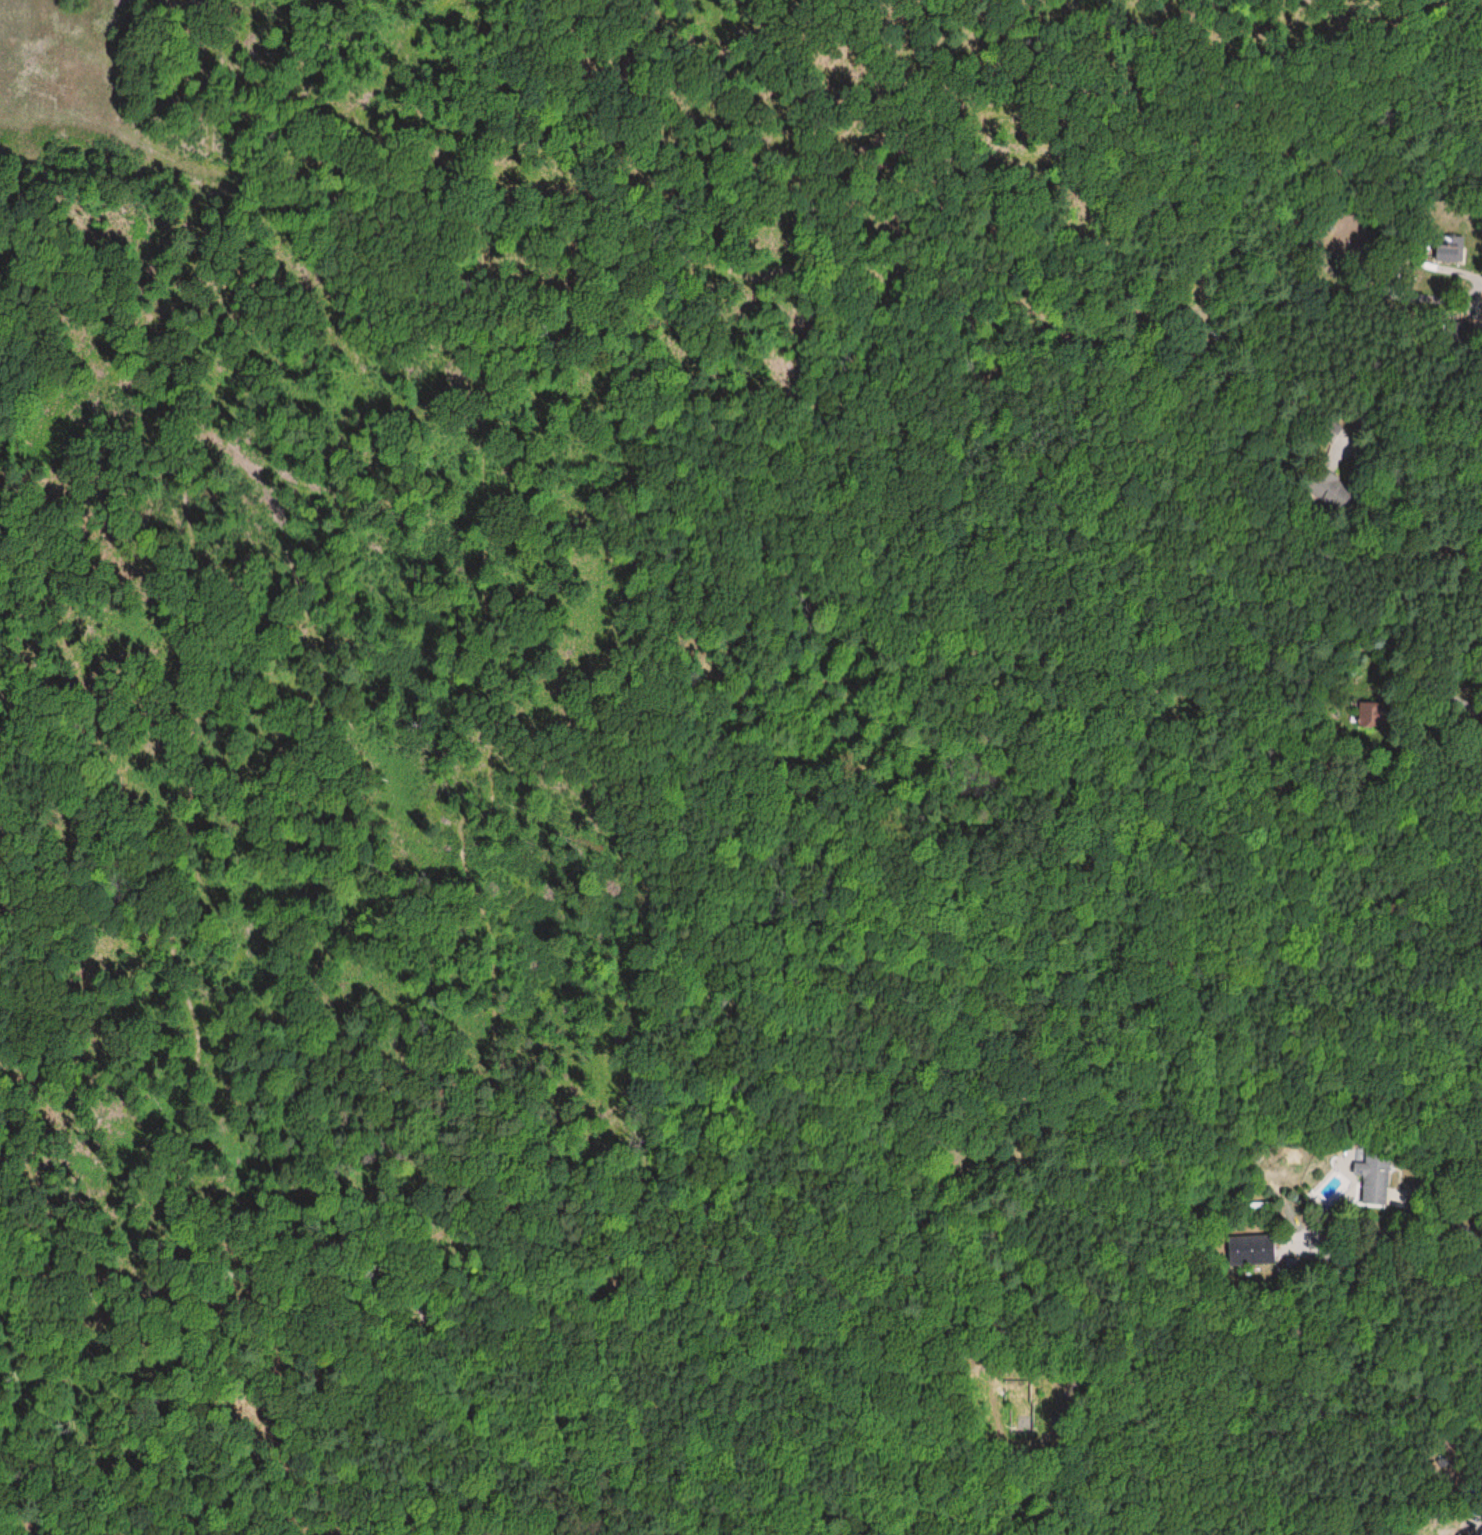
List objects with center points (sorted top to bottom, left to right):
building: (1328, 429)
building: (1328, 484)
road: (1356, 619)
building: (1374, 714)
road: (1376, 956)
building: (1372, 1178)
road: (1379, 1240)
building: (1250, 1250)
road: (1391, 1484)

